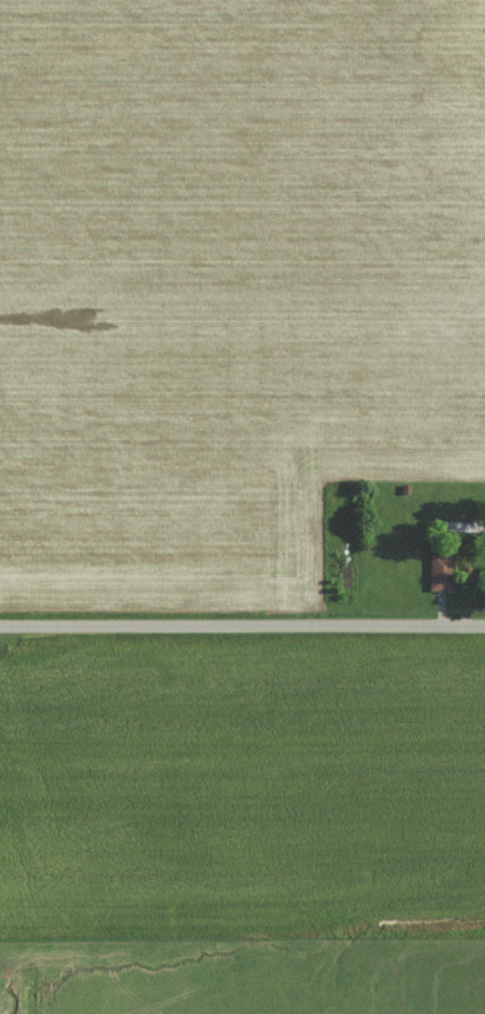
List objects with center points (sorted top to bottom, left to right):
building: (440, 572)
road: (242, 627)

